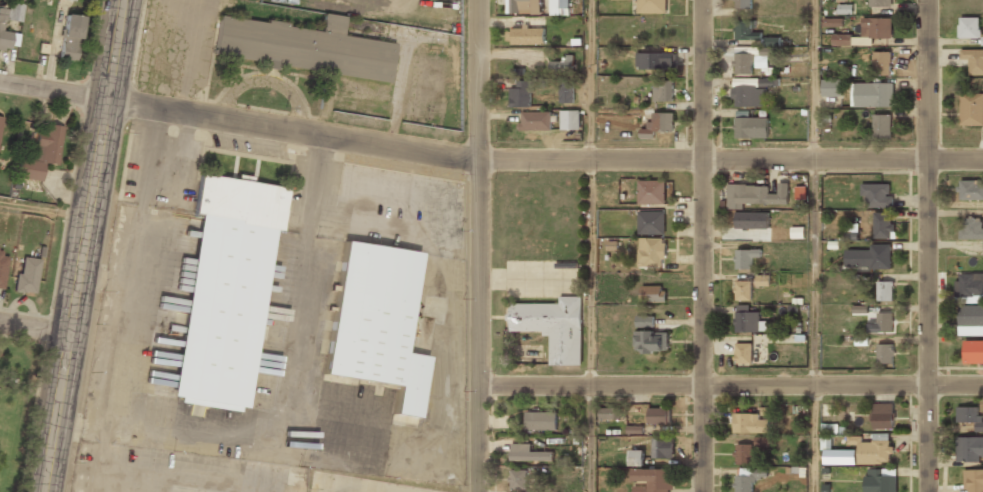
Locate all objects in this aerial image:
building: (71, 0)
building: (612, 0)
building: (878, 3)
building: (559, 5)
building: (742, 5)
building: (651, 6)
building: (524, 7)
building: (13, 12)
building: (832, 22)
building: (876, 28)
building: (969, 28)
building: (526, 31)
building: (746, 32)
building: (7, 36)
building: (70, 37)
building: (843, 40)
building: (862, 41)
building: (301, 47)
building: (764, 56)
building: (654, 60)
building: (973, 61)
building: (881, 63)
building: (562, 64)
building: (743, 64)
road: (589, 80)
road: (813, 80)
building: (831, 88)
building: (565, 92)
building: (664, 92)
building: (521, 94)
building: (872, 95)
building: (748, 97)
building: (971, 110)
building: (0, 117)
building: (570, 120)
building: (535, 121)
building: (658, 124)
building: (882, 126)
building: (750, 128)
building: (41, 153)
road: (488, 161)
building: (971, 189)
building: (651, 191)
building: (758, 193)
building: (876, 194)
road: (43, 209)
building: (651, 219)
building: (882, 224)
building: (755, 225)
building: (970, 228)
building: (797, 232)
road: (478, 245)
road: (927, 245)
road: (82, 246)
road: (702, 246)
building: (651, 251)
building: (868, 256)
building: (745, 257)
building: (2, 269)
road: (813, 272)
road: (590, 273)
building: (26, 276)
building: (763, 280)
building: (969, 285)
building: (743, 290)
building: (885, 290)
building: (224, 291)
building: (653, 293)
building: (971, 319)
building: (645, 320)
building: (748, 321)
building: (882, 323)
building: (376, 324)
building: (553, 326)
road: (34, 329)
building: (651, 341)
building: (973, 350)
building: (743, 353)
building: (885, 354)
road: (730, 385)
park: (18, 404)
building: (609, 413)
building: (658, 415)
building: (882, 415)
building: (969, 415)
building: (542, 421)
building: (751, 423)
building: (830, 434)
road: (590, 438)
road: (813, 438)
building: (762, 441)
building: (660, 448)
building: (970, 448)
building: (873, 449)
building: (744, 453)
building: (528, 454)
building: (636, 457)
building: (747, 478)
building: (653, 479)
building: (518, 480)
building: (880, 480)
building: (973, 480)

